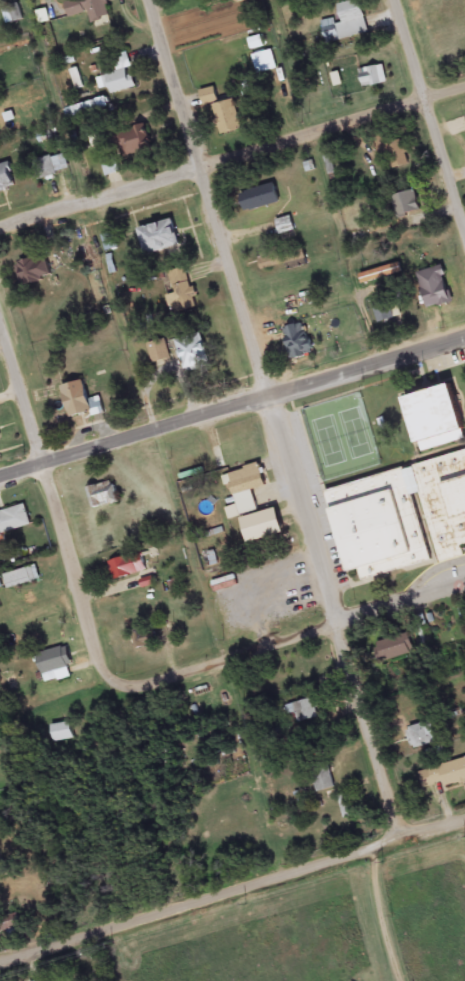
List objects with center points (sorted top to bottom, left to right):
building: (186, 0)
building: (88, 10)
building: (346, 24)
building: (119, 78)
building: (371, 79)
building: (77, 82)
road: (431, 111)
building: (78, 113)
building: (222, 114)
building: (134, 142)
road: (233, 165)
building: (52, 167)
building: (110, 168)
building: (6, 178)
road: (216, 198)
building: (260, 199)
building: (405, 205)
building: (284, 227)
building: (160, 240)
building: (108, 244)
building: (282, 261)
building: (33, 272)
building: (380, 275)
building: (434, 289)
building: (181, 294)
building: (383, 310)
building: (296, 343)
building: (192, 354)
road: (372, 370)
road: (421, 374)
building: (75, 401)
building: (434, 420)
park: (340, 439)
building: (0, 440)
road: (140, 440)
building: (244, 492)
building: (102, 497)
building: (400, 520)
building: (14, 521)
building: (127, 568)
building: (21, 579)
road: (433, 579)
building: (0, 587)
building: (28, 600)
road: (92, 611)
road: (342, 620)
building: (142, 640)
road: (292, 640)
building: (393, 650)
building: (54, 666)
building: (303, 712)
building: (61, 734)
building: (421, 737)
building: (446, 776)
building: (322, 779)
building: (347, 807)
road: (232, 896)
road: (378, 917)
building: (11, 926)

